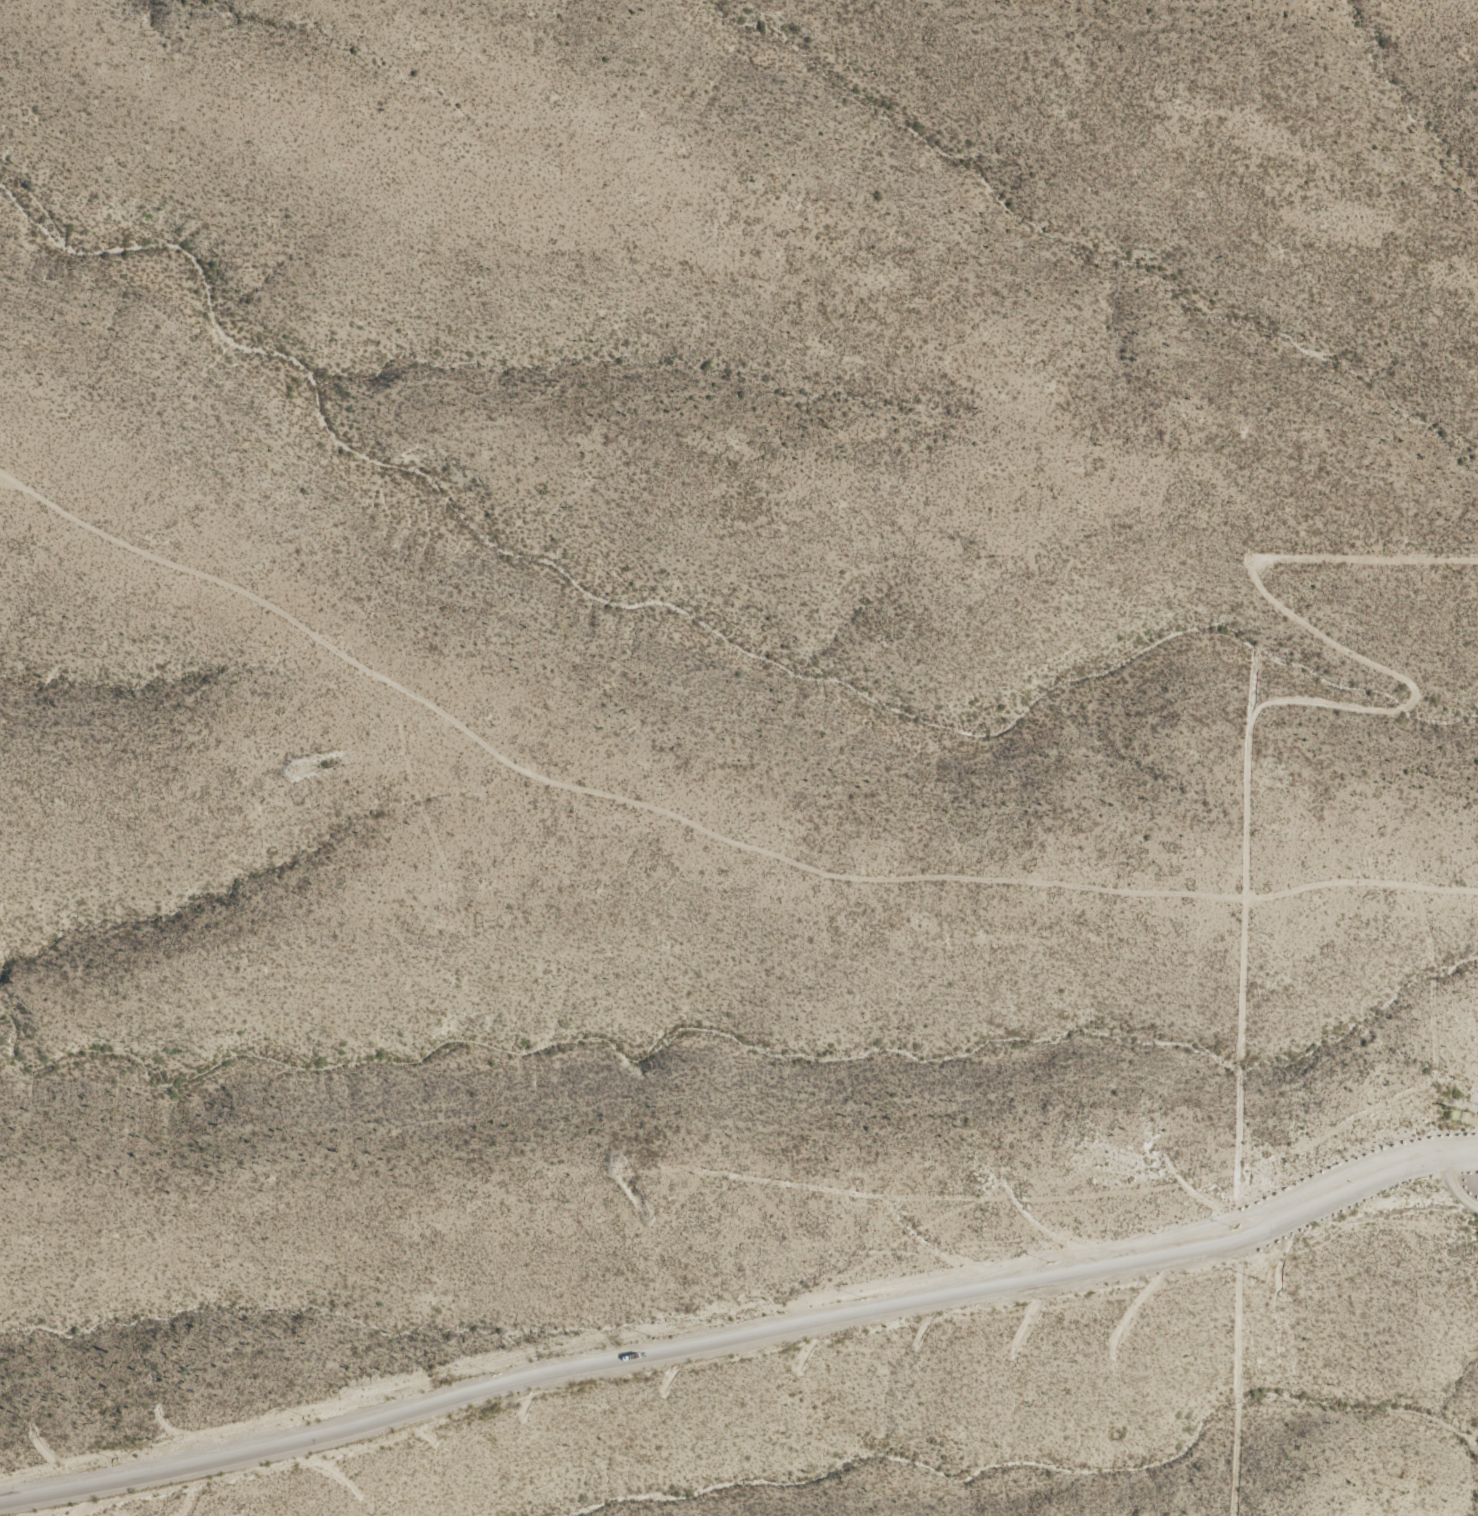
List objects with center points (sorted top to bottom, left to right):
road: (742, 1336)

